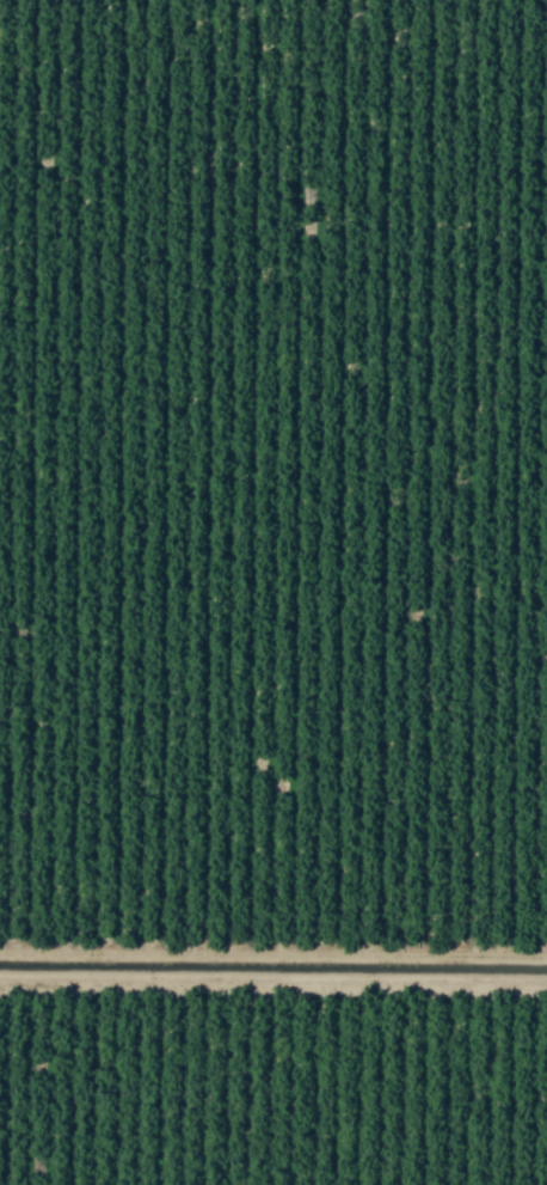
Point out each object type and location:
road: (272, 954)

